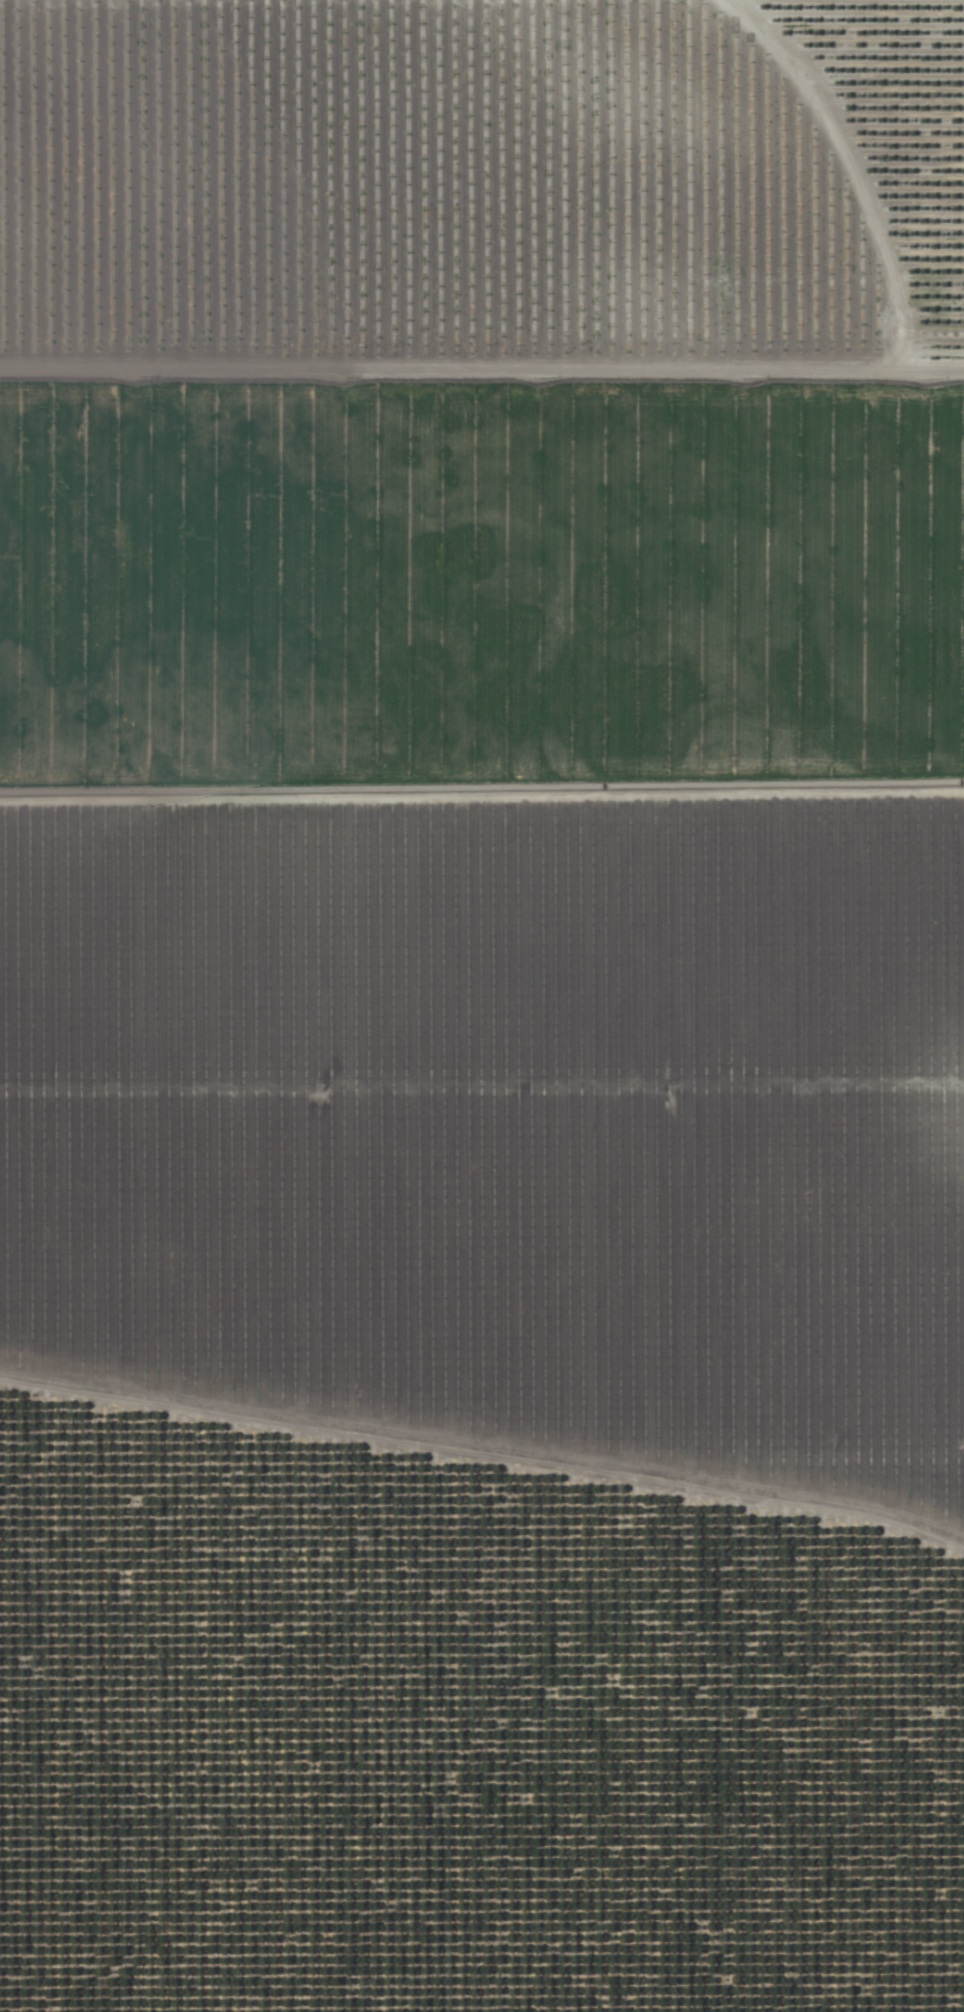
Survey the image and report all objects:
road: (482, 371)
crop: (482, 1006)
building: (205, 1505)
building: (114, 1513)
building: (269, 1530)
building: (357, 1540)
building: (670, 1675)
building: (411, 1871)

